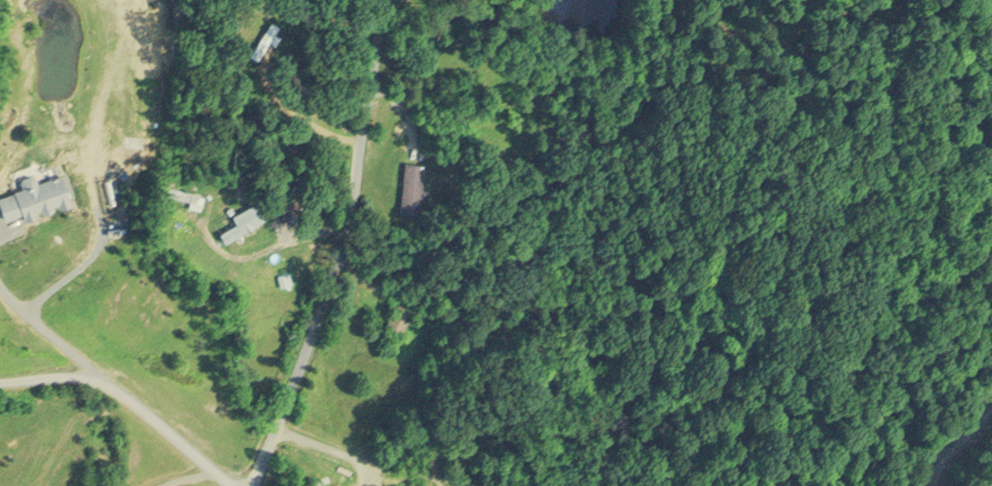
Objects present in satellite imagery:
building: (264, 39)
road: (304, 121)
building: (412, 184)
building: (33, 192)
building: (242, 219)
road: (270, 243)
road: (341, 249)
road: (45, 294)
road: (14, 299)
building: (398, 314)
road: (132, 395)
road: (958, 443)
road: (349, 460)
road: (184, 474)

